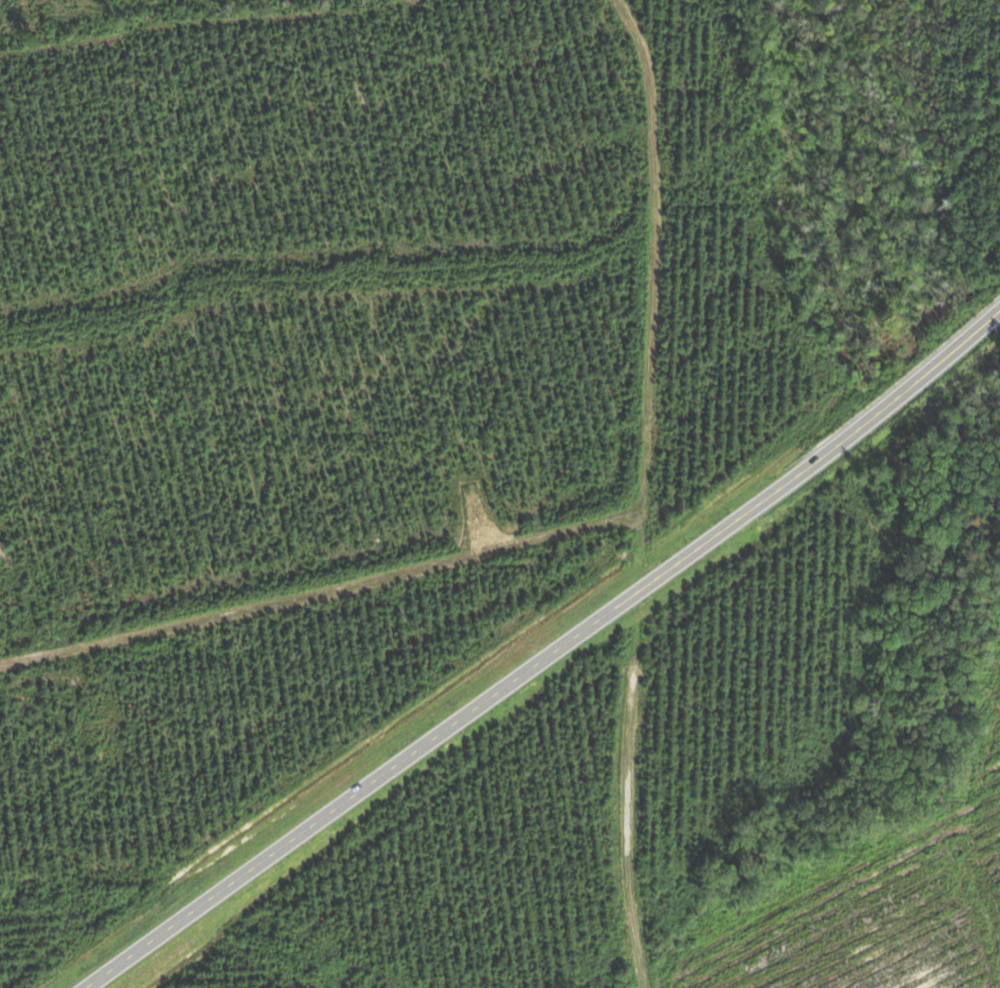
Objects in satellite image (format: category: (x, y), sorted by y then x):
road: (637, 291)
road: (321, 573)
road: (548, 655)
road: (626, 790)

